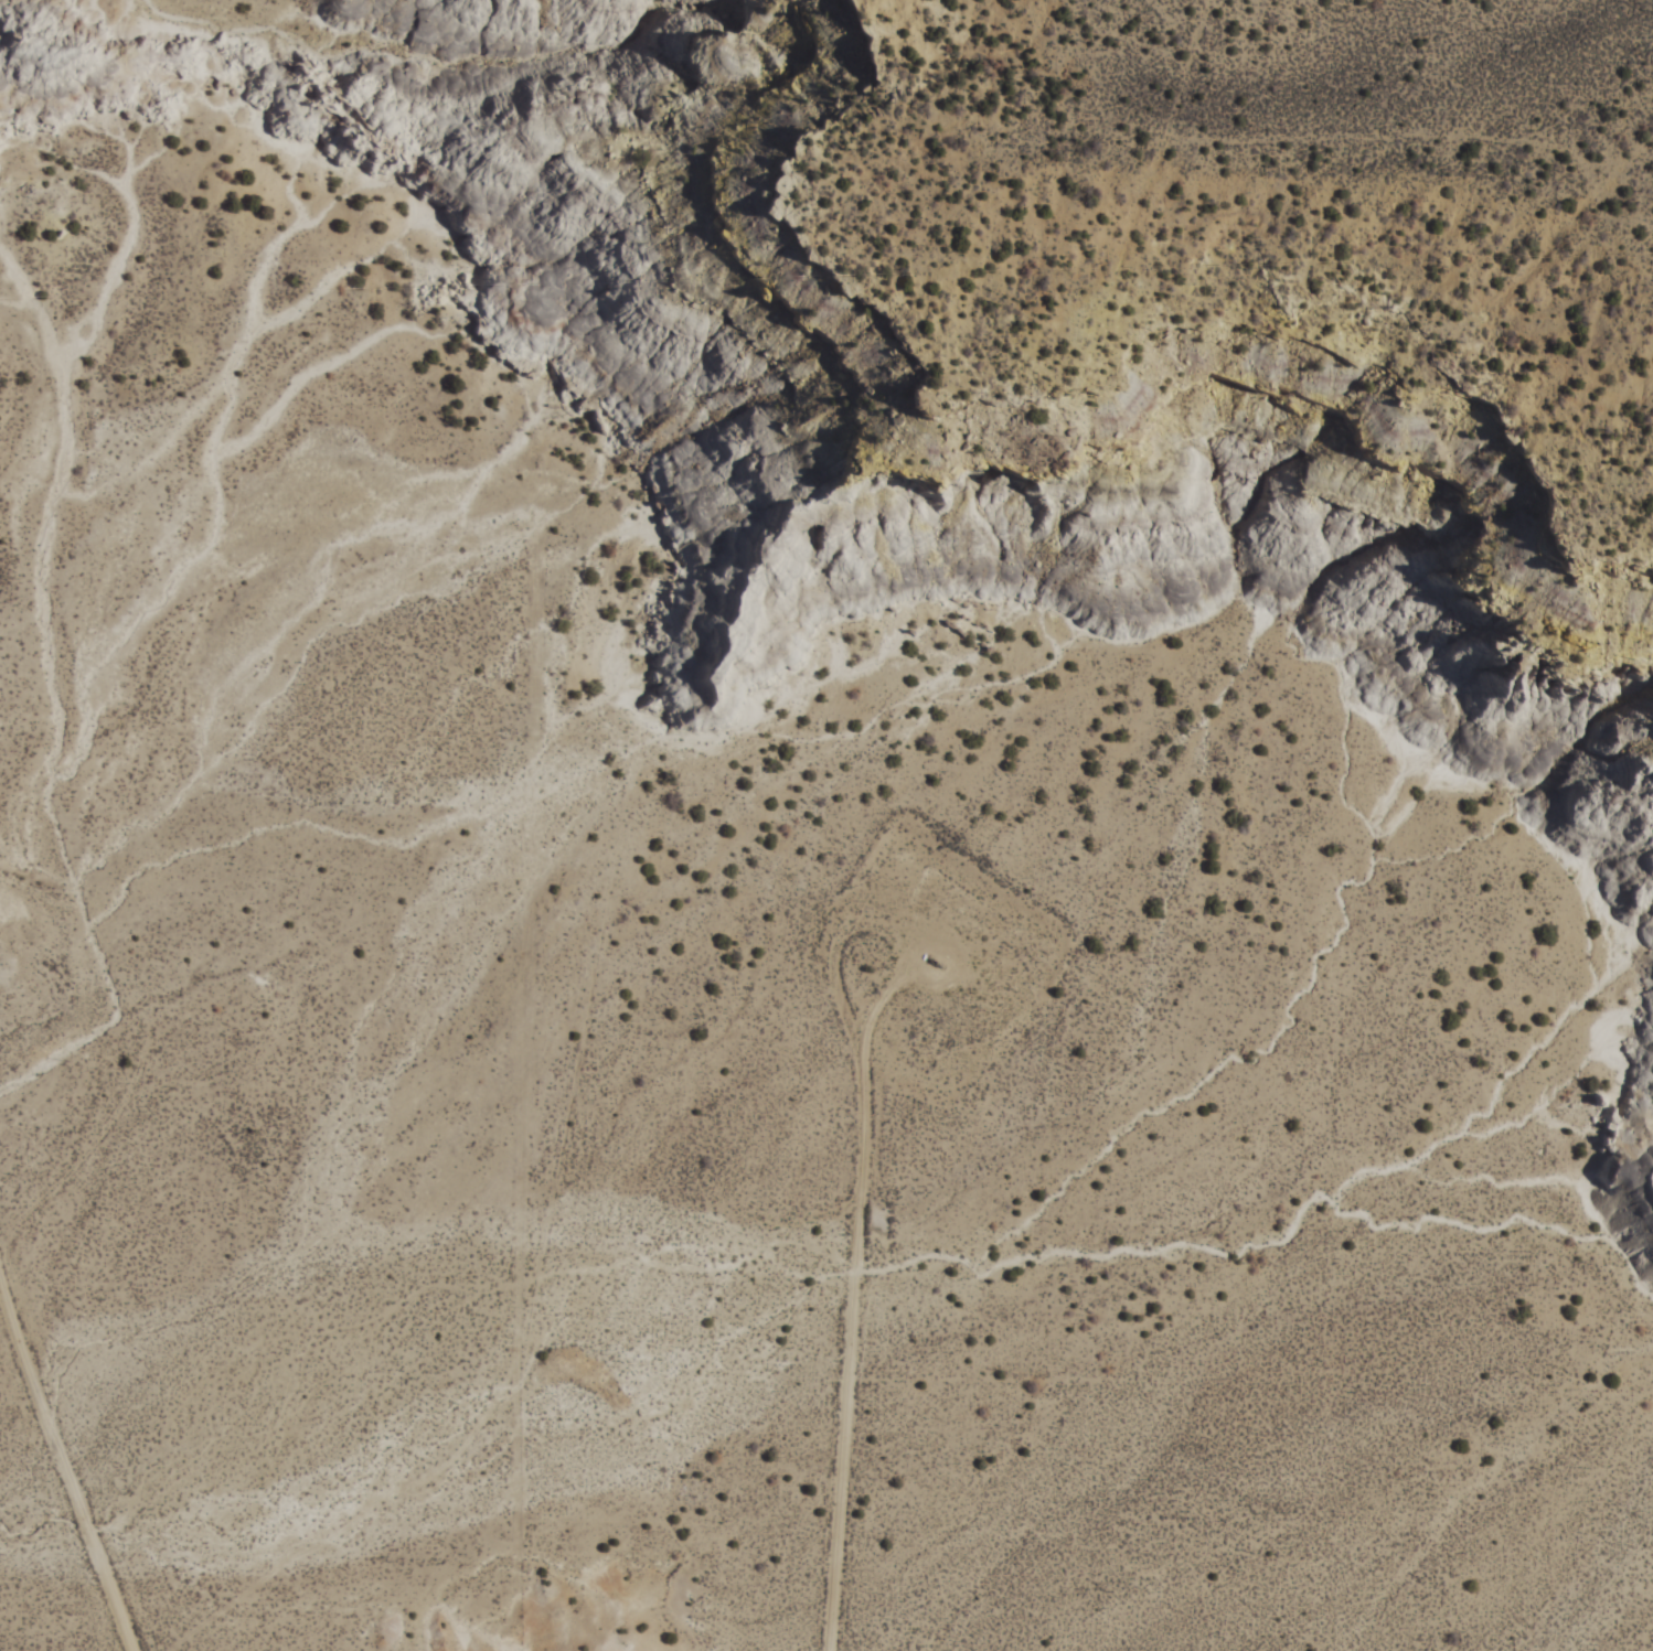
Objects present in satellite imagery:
road: (98, 1451)

